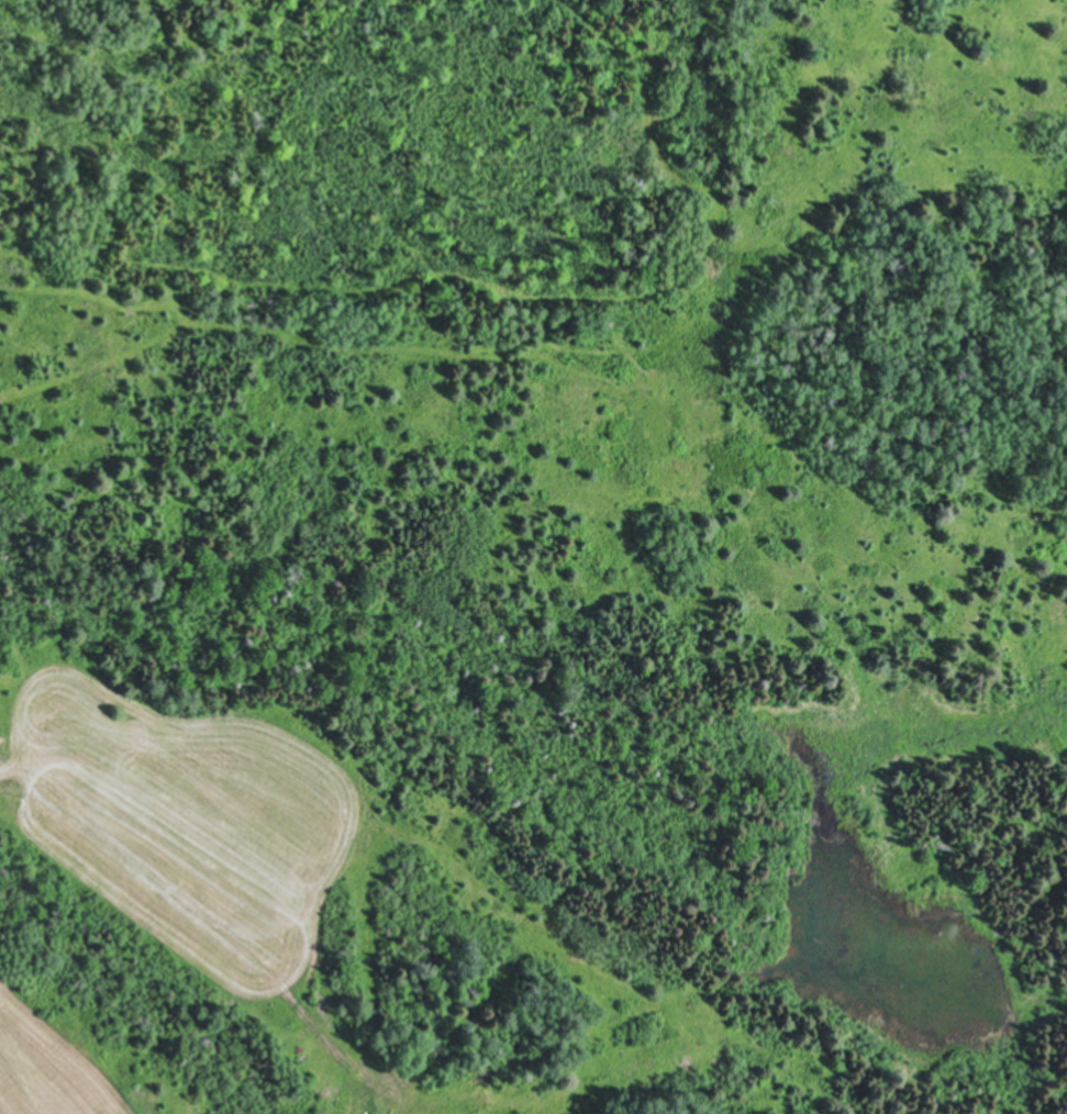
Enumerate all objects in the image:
building: (380, 1113)

